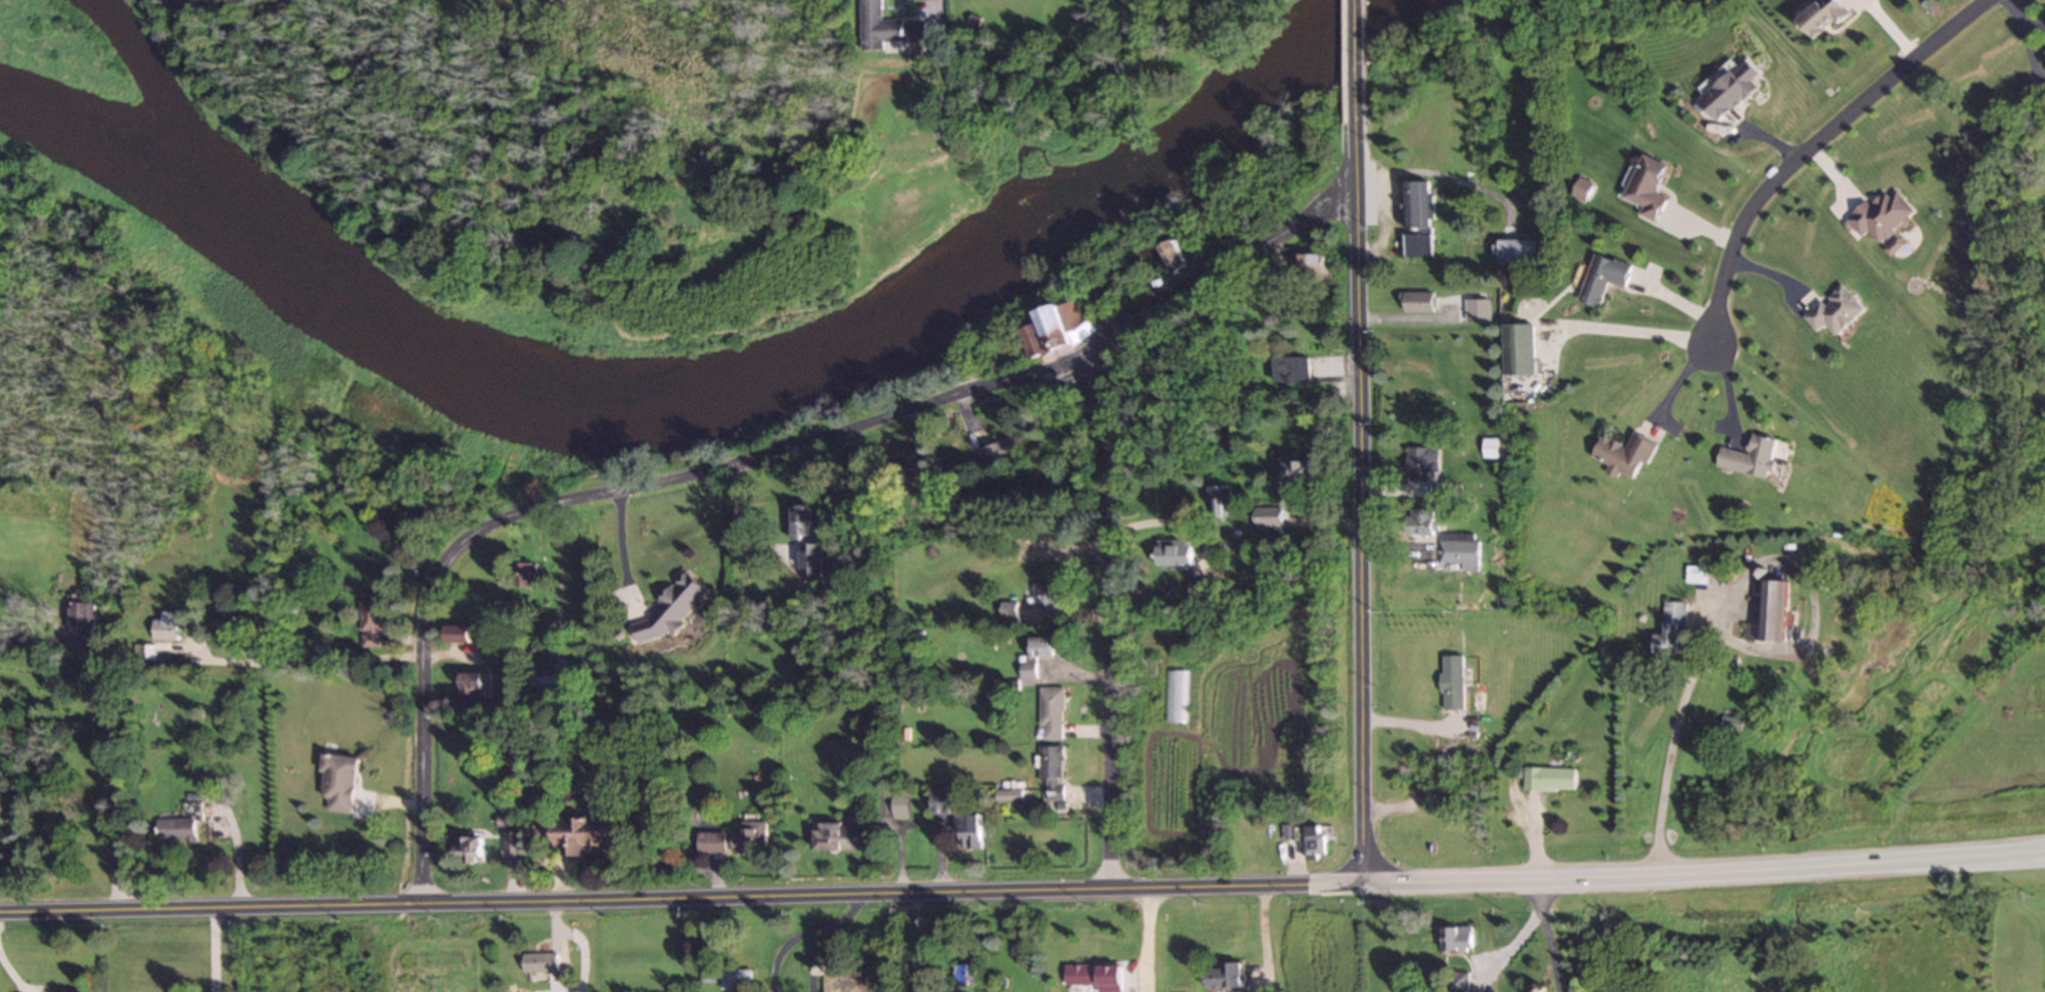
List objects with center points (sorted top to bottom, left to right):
building: (1213, 7)
building: (1823, 15)
building: (885, 27)
road: (1353, 60)
building: (1730, 90)
road: (1810, 146)
building: (1647, 186)
building: (1580, 188)
building: (1880, 214)
building: (1414, 219)
building: (1515, 252)
building: (1172, 255)
building: (1311, 265)
building: (1603, 277)
building: (1415, 302)
building: (1834, 310)
road: (1613, 328)
building: (1048, 335)
building: (1516, 349)
building: (1288, 369)
river: (702, 396)
road: (925, 397)
building: (1487, 447)
building: (993, 452)
building: (1623, 454)
building: (1749, 457)
building: (1420, 462)
building: (1298, 470)
building: (922, 484)
building: (1217, 501)
road: (1360, 501)
building: (1268, 516)
building: (1417, 521)
building: (800, 522)
road: (618, 547)
building: (1456, 549)
building: (1173, 552)
building: (809, 559)
building: (523, 574)
building: (951, 585)
building: (1199, 588)
building: (1043, 595)
building: (668, 608)
building: (1770, 614)
building: (81, 617)
road: (1103, 618)
building: (369, 623)
building: (167, 626)
building: (1670, 630)
building: (455, 634)
road: (68, 642)
building: (141, 651)
building: (1036, 653)
road: (310, 658)
road: (51, 673)
building: (1450, 681)
building: (549, 685)
building: (469, 690)
road: (420, 710)
building: (1049, 712)
building: (1730, 722)
road: (1673, 742)
building: (1051, 773)
building: (1546, 778)
building: (337, 781)
building: (1006, 794)
road: (99, 802)
building: (898, 804)
building: (941, 812)
building: (178, 825)
building: (969, 831)
building: (580, 834)
building: (835, 836)
building: (746, 838)
building: (1312, 839)
building: (710, 841)
building: (510, 843)
building: (469, 849)
road: (1706, 873)
road: (683, 886)
road: (1549, 934)
road: (1142, 937)
road: (1265, 937)
building: (1456, 938)
road: (208, 944)
building: (539, 962)
building: (707, 973)
building: (963, 973)
building: (1079, 974)
building: (1224, 975)
building: (734, 979)
building: (1109, 979)
building: (1457, 982)
building: (844, 983)

